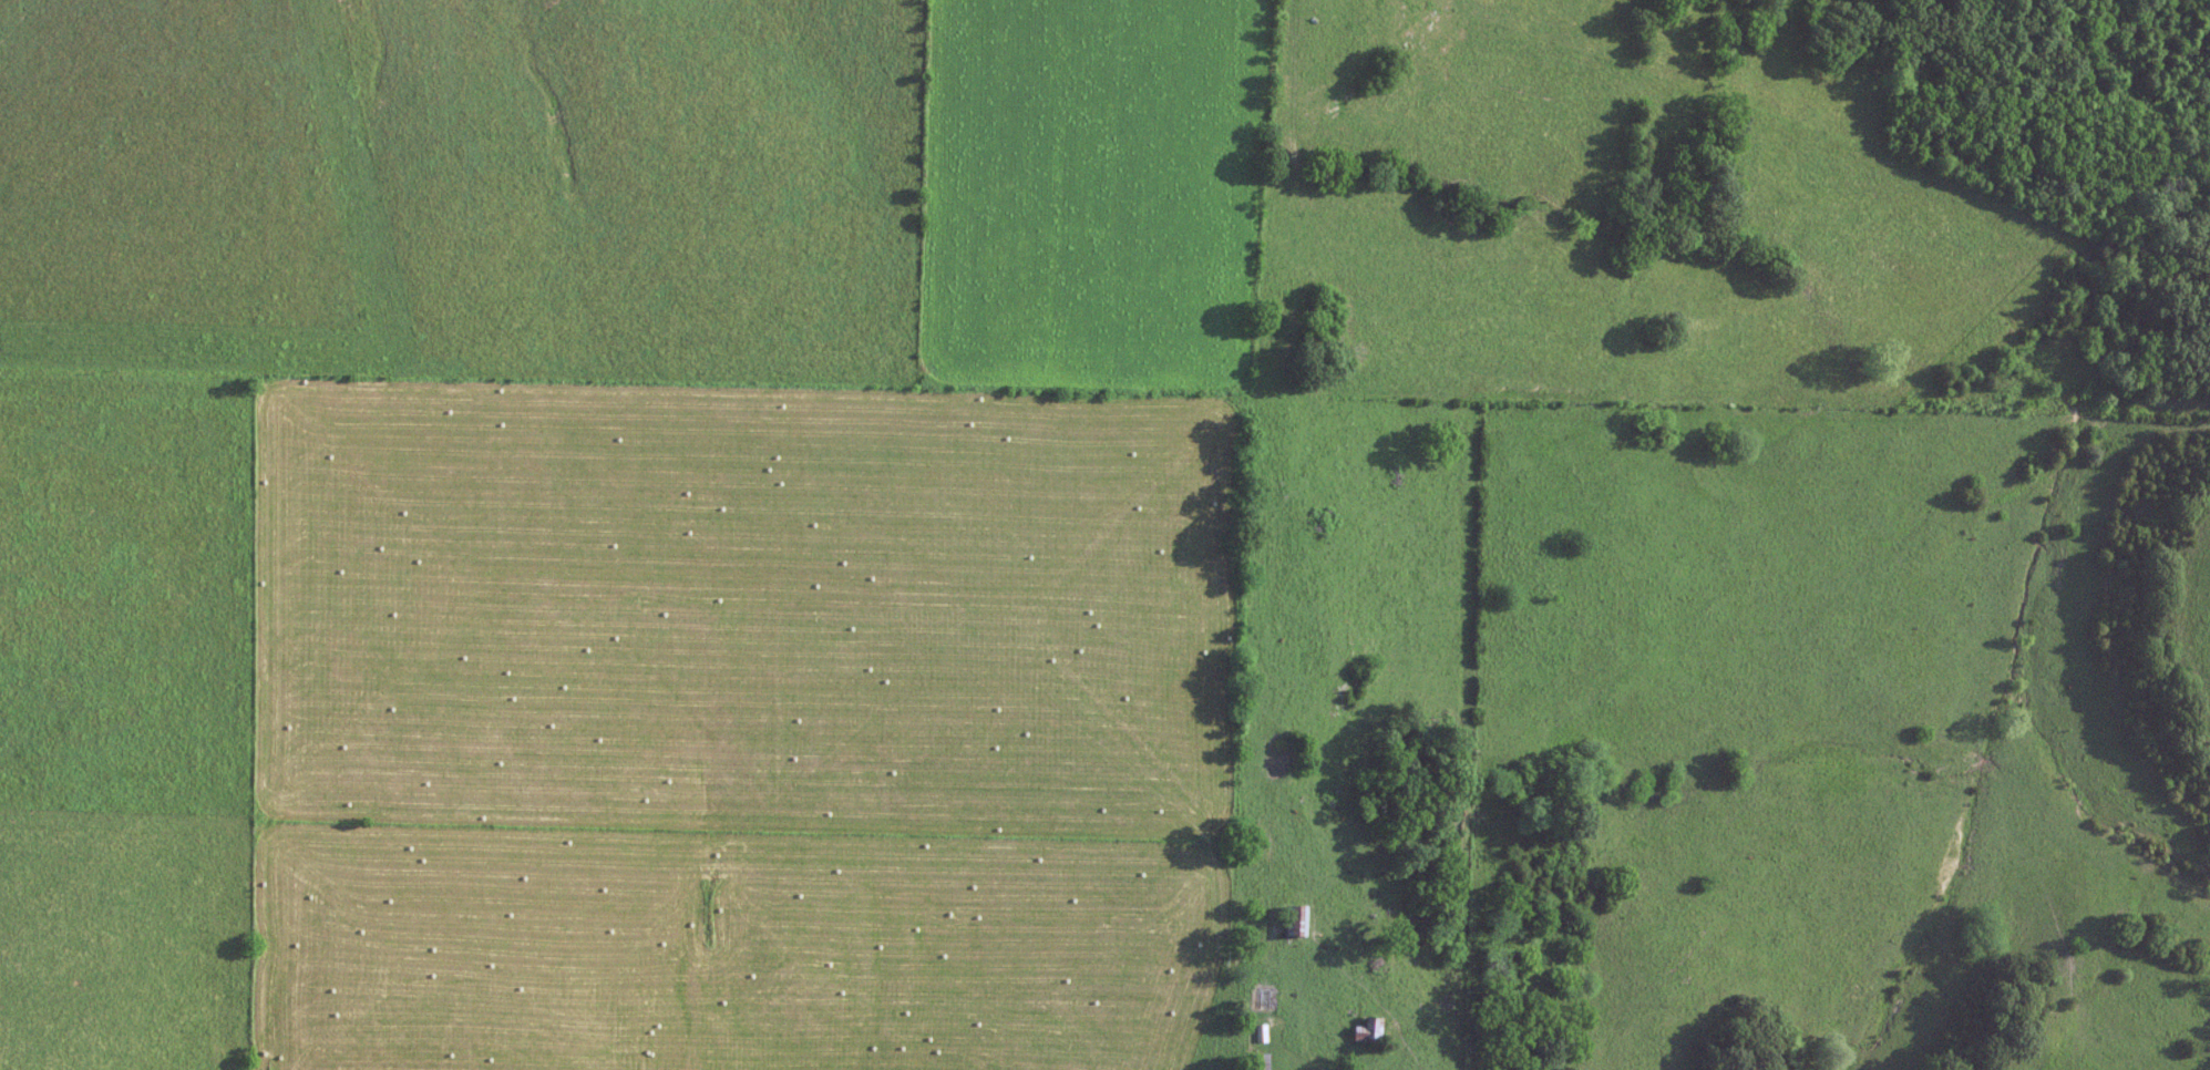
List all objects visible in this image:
building: (1298, 922)
building: (1263, 999)
building: (1373, 1030)
building: (1264, 1061)

